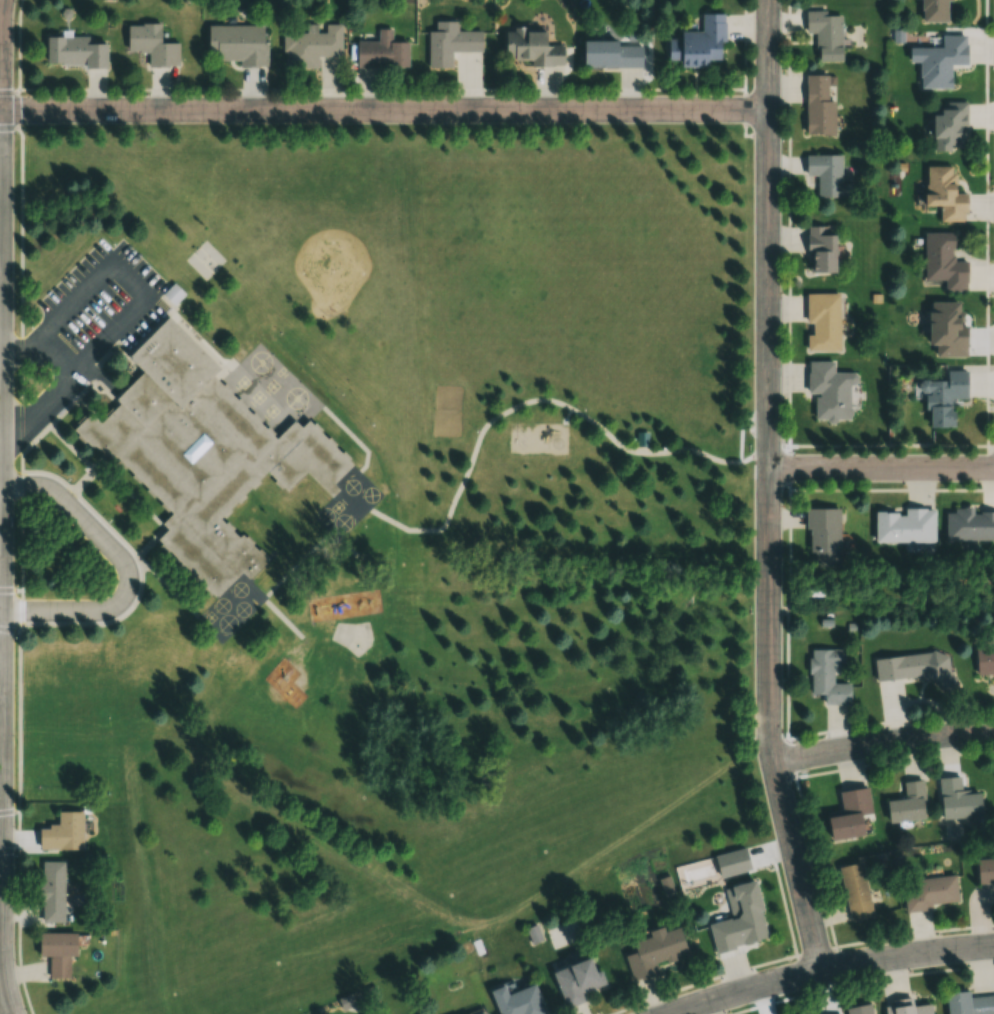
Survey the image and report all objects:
building: (933, 10)
building: (826, 34)
building: (450, 43)
building: (234, 44)
building: (698, 44)
building: (152, 46)
building: (311, 46)
building: (532, 48)
building: (381, 52)
building: (73, 53)
building: (611, 55)
building: (938, 60)
road: (9, 89)
road: (426, 89)
building: (817, 106)
road: (20, 109)
road: (383, 110)
building: (947, 125)
road: (744, 134)
building: (827, 176)
building: (943, 194)
building: (819, 249)
park: (205, 260)
building: (943, 262)
park: (332, 268)
road: (129, 281)
road: (789, 293)
building: (171, 295)
parking lot: (105, 296)
park: (486, 309)
building: (822, 322)
road: (27, 349)
road: (67, 349)
road: (99, 378)
building: (829, 390)
building: (944, 395)
road: (549, 399)
road: (47, 407)
park: (447, 410)
building: (641, 438)
road: (987, 449)
building: (198, 452)
road: (789, 468)
road: (881, 469)
road: (768, 487)
road: (891, 490)
road: (0, 507)
building: (904, 525)
building: (968, 525)
building: (822, 536)
road: (123, 565)
road: (23, 572)
road: (0, 609)
park: (354, 637)
building: (984, 660)
building: (914, 667)
building: (827, 675)
road: (787, 730)
road: (882, 741)
building: (958, 799)
building: (907, 803)
building: (848, 813)
building: (62, 832)
building: (985, 870)
building: (51, 891)
building: (854, 891)
building: (929, 892)
building: (740, 919)
building: (56, 951)
building: (652, 951)
road: (831, 967)
building: (575, 980)
building: (517, 1000)
building: (968, 1003)
building: (909, 1008)
building: (859, 1009)
building: (480, 1012)

